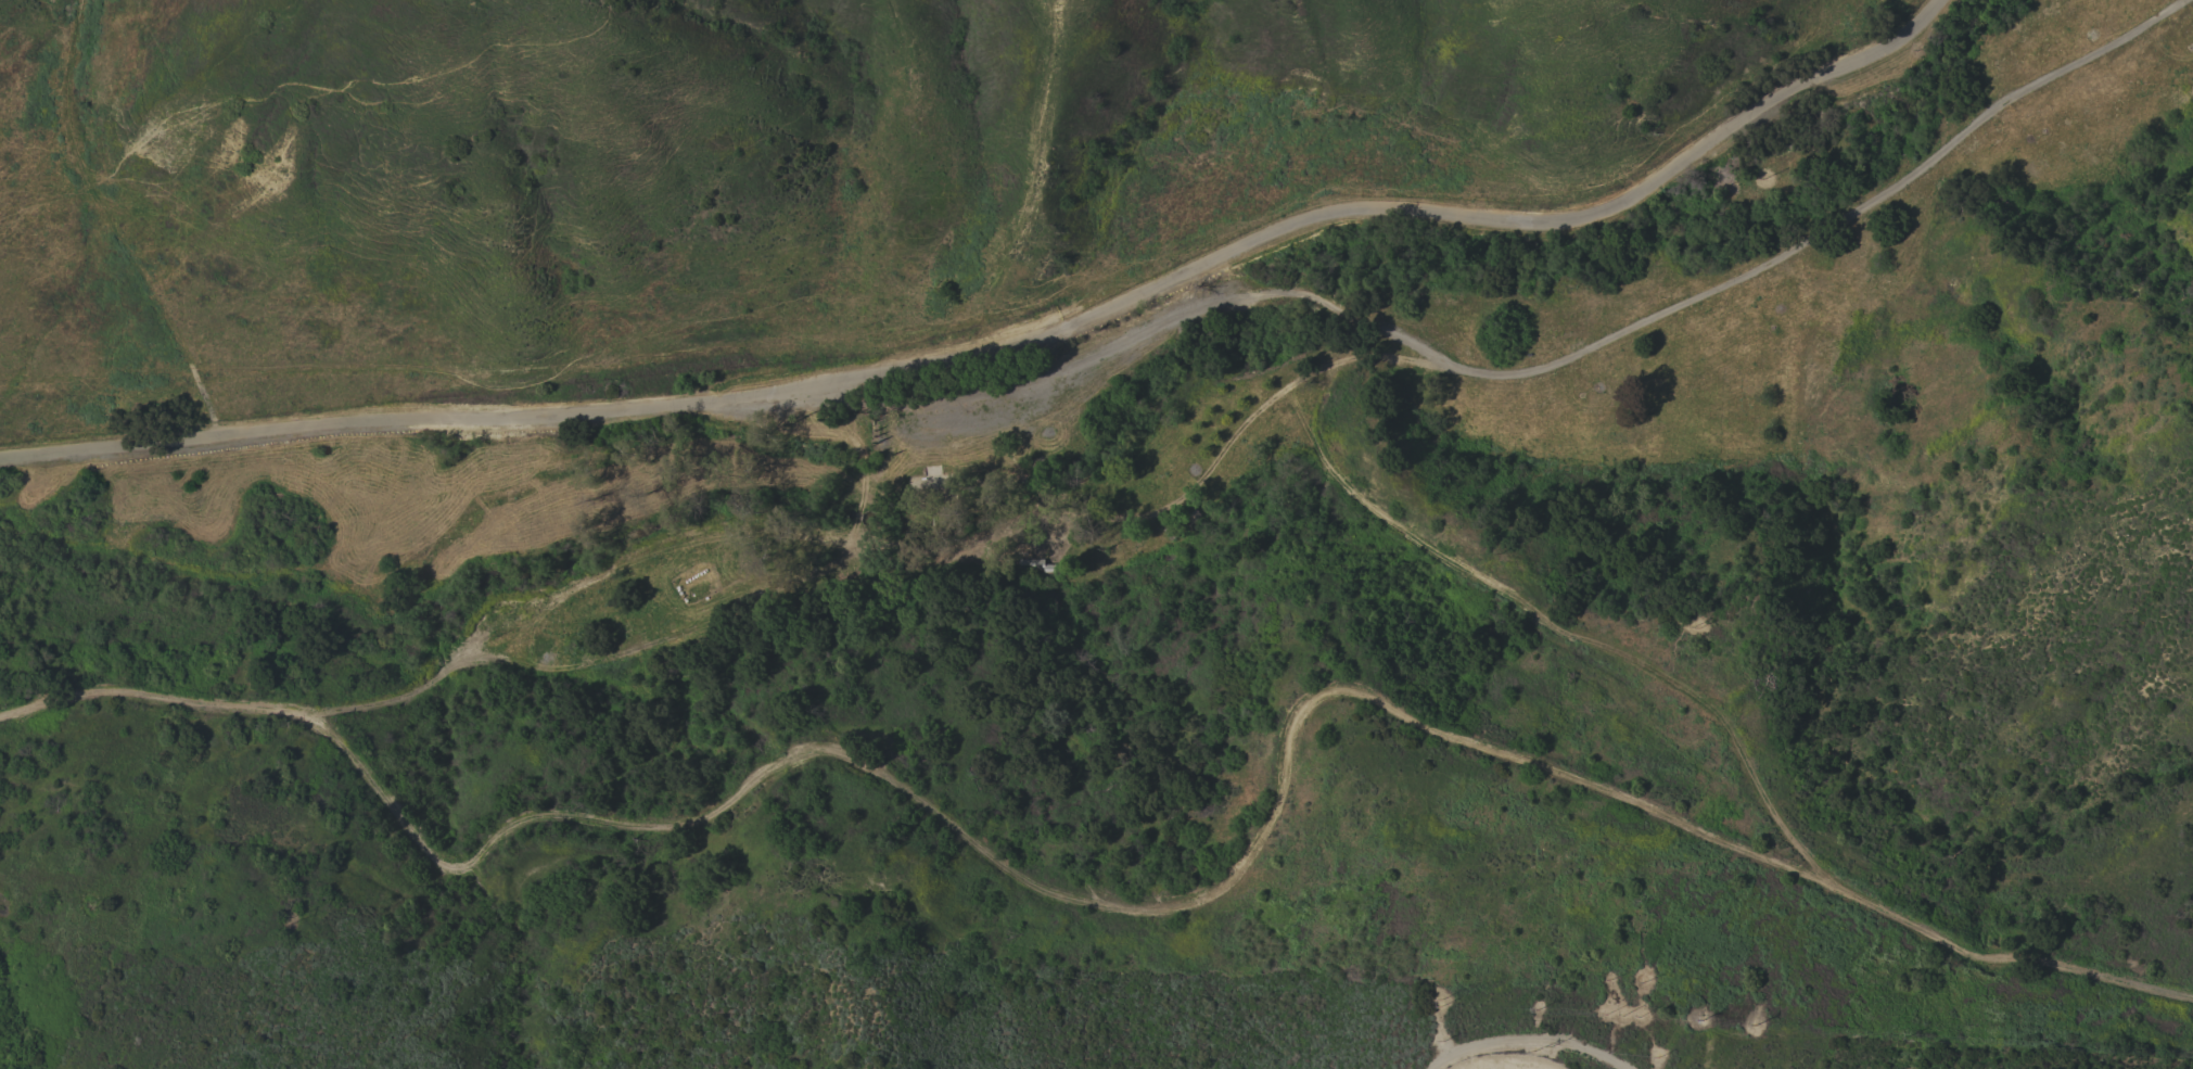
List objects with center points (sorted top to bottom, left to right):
road: (1025, 200)
road: (1015, 348)
road: (1531, 371)
road: (1517, 1043)

